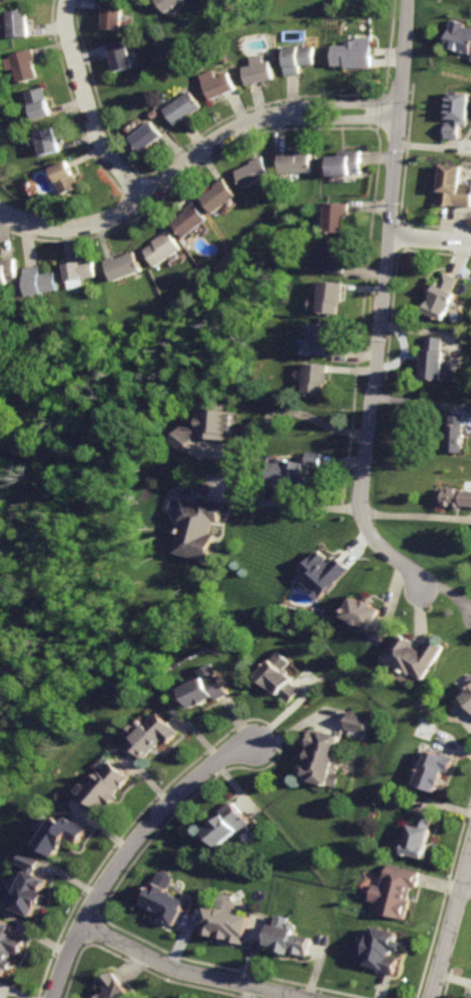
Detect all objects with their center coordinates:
building: (24, 0)
building: (170, 5)
building: (110, 15)
building: (20, 22)
building: (459, 36)
building: (119, 56)
building: (350, 56)
building: (295, 58)
building: (470, 60)
building: (23, 65)
building: (255, 71)
building: (217, 85)
building: (38, 103)
road: (83, 106)
building: (181, 108)
building: (450, 112)
building: (147, 135)
building: (46, 141)
road: (192, 157)
building: (295, 163)
building: (344, 163)
building: (252, 173)
building: (63, 178)
building: (450, 188)
building: (219, 196)
building: (335, 216)
building: (187, 219)
road: (429, 240)
building: (161, 247)
building: (331, 260)
building: (121, 267)
building: (79, 270)
building: (9, 272)
building: (38, 281)
building: (329, 297)
building: (439, 297)
road: (381, 304)
building: (324, 342)
building: (431, 357)
building: (319, 379)
road: (276, 417)
building: (209, 425)
building: (454, 434)
building: (293, 471)
building: (451, 496)
road: (281, 504)
road: (415, 515)
building: (199, 527)
building: (321, 573)
road: (445, 596)
building: (369, 617)
building: (416, 656)
building: (283, 677)
building: (208, 689)
building: (465, 700)
building: (354, 720)
building: (155, 735)
building: (321, 757)
building: (433, 772)
building: (104, 791)
building: (222, 826)
building: (63, 835)
building: (418, 835)
road: (128, 849)
building: (32, 883)
building: (393, 892)
building: (161, 901)
road: (450, 917)
building: (227, 922)
building: (287, 936)
building: (9, 946)
building: (380, 950)
road: (186, 973)
building: (113, 987)
road: (243, 992)
building: (1, 997)
building: (470, 997)

